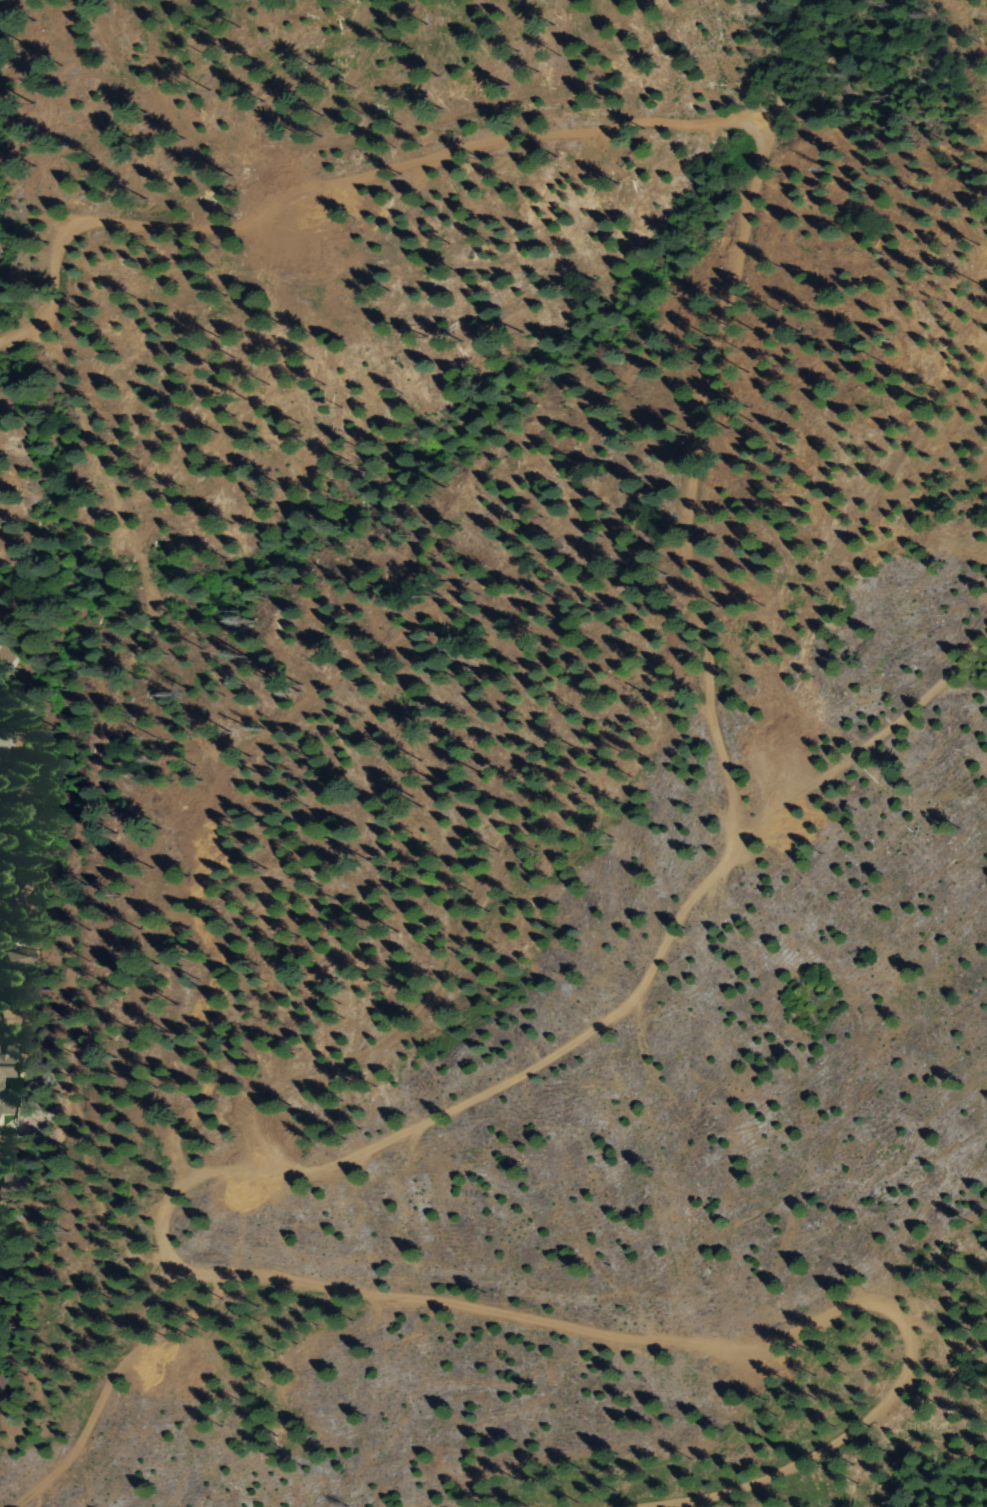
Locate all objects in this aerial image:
building: (5, 659)
building: (5, 747)
building: (12, 798)
building: (29, 883)
building: (16, 957)
building: (6, 1019)
building: (7, 1061)
building: (5, 1107)
road: (86, 1174)
building: (13, 1187)
building: (6, 1392)
road: (832, 1440)

